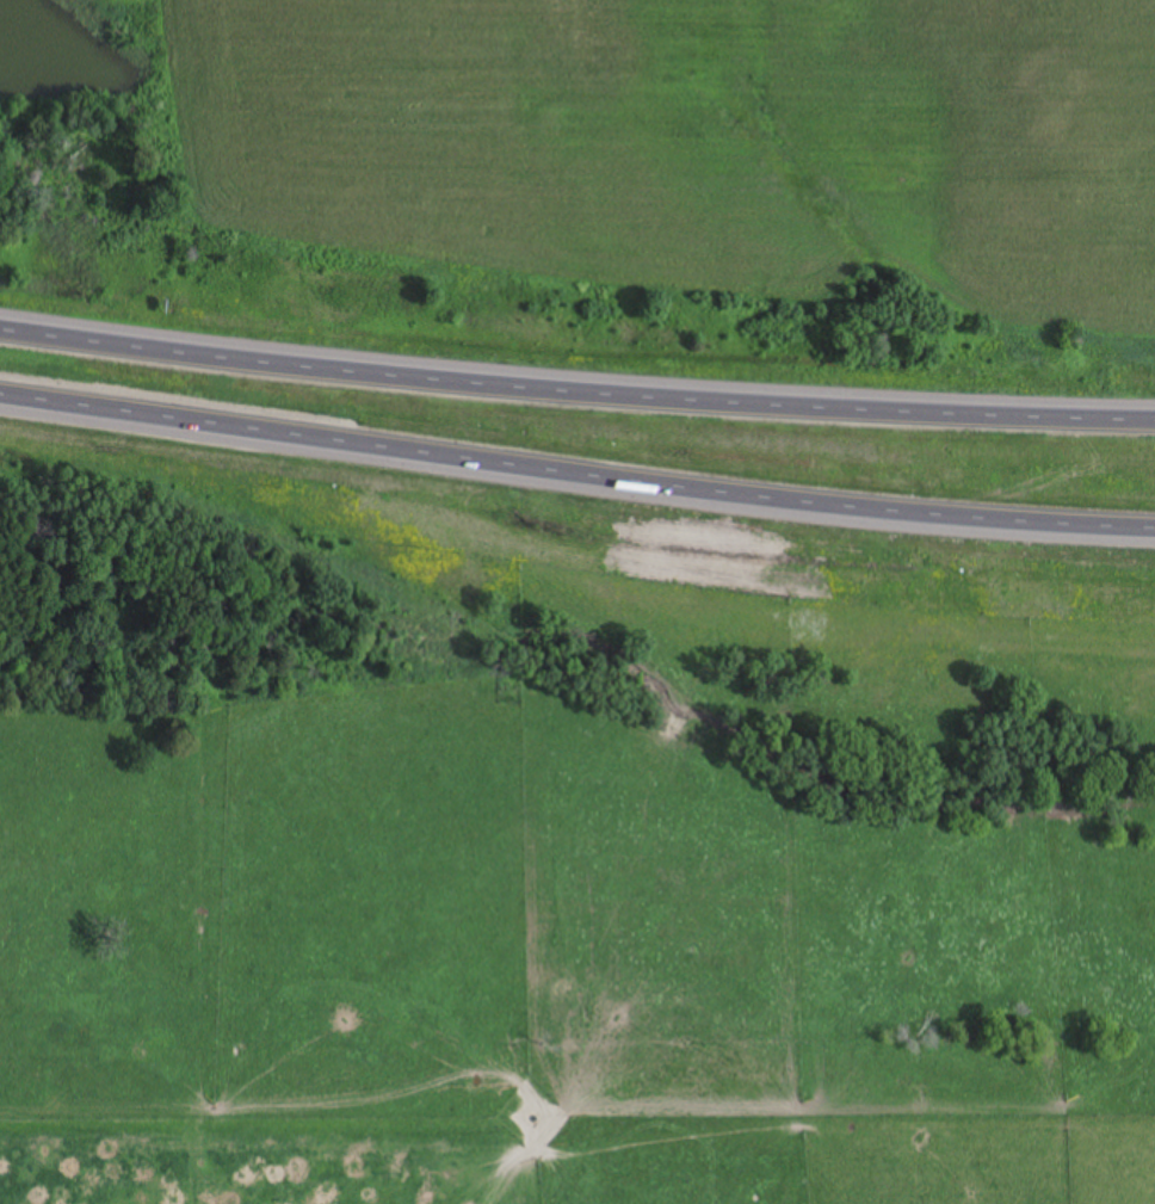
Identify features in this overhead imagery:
crop: (696, 143)
road: (576, 385)
road: (576, 477)

